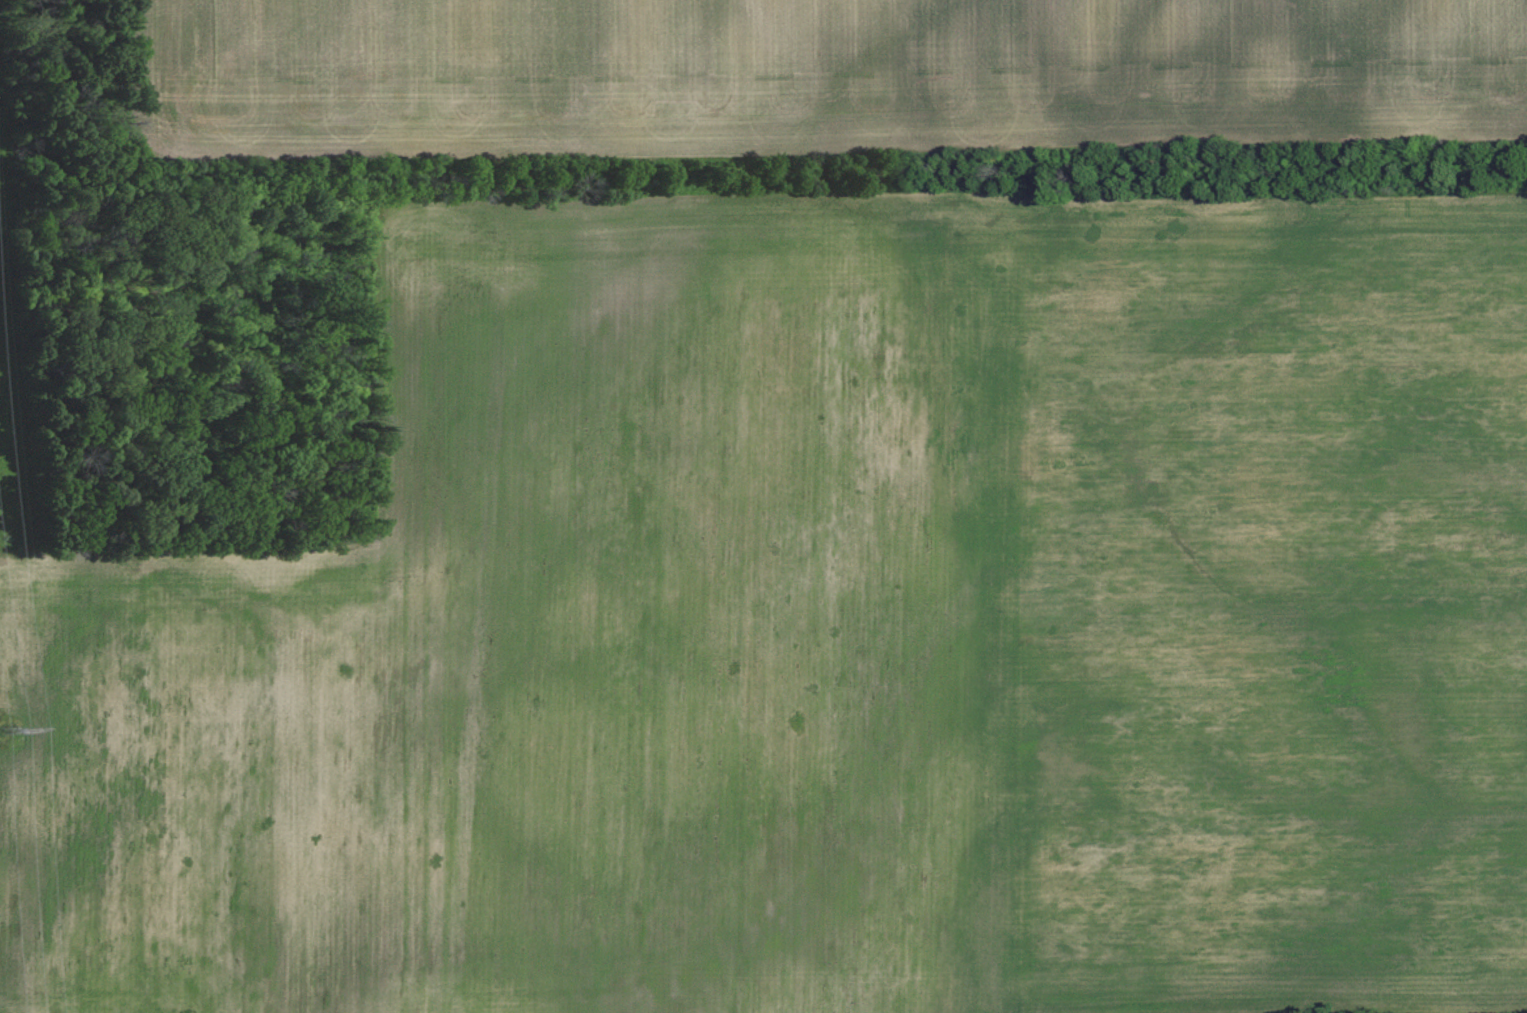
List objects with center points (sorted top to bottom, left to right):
power tower: (4, 731)

